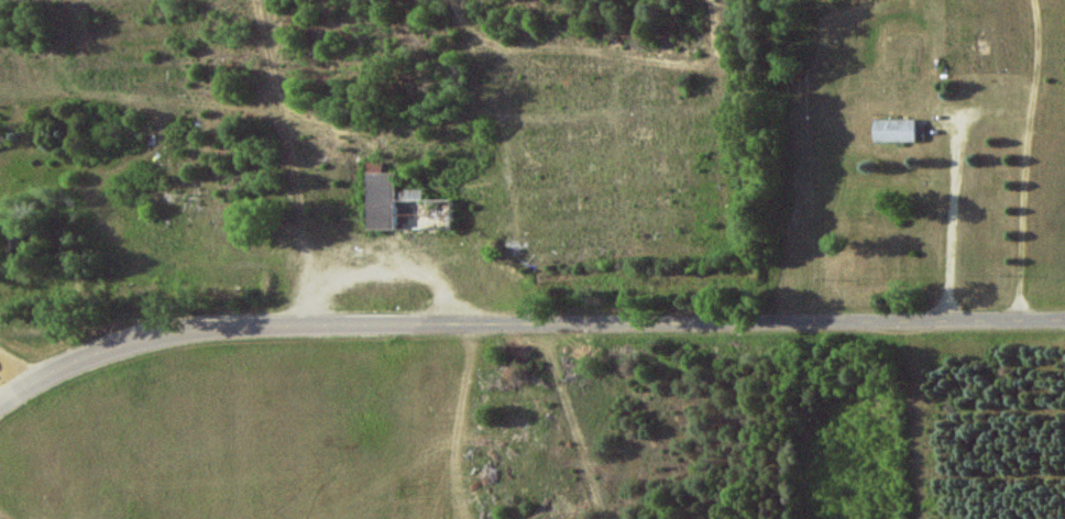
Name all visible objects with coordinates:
building: (894, 130)
road: (1025, 159)
road: (294, 162)
building: (386, 198)
road: (952, 223)
road: (627, 323)
road: (96, 330)
road: (91, 357)

